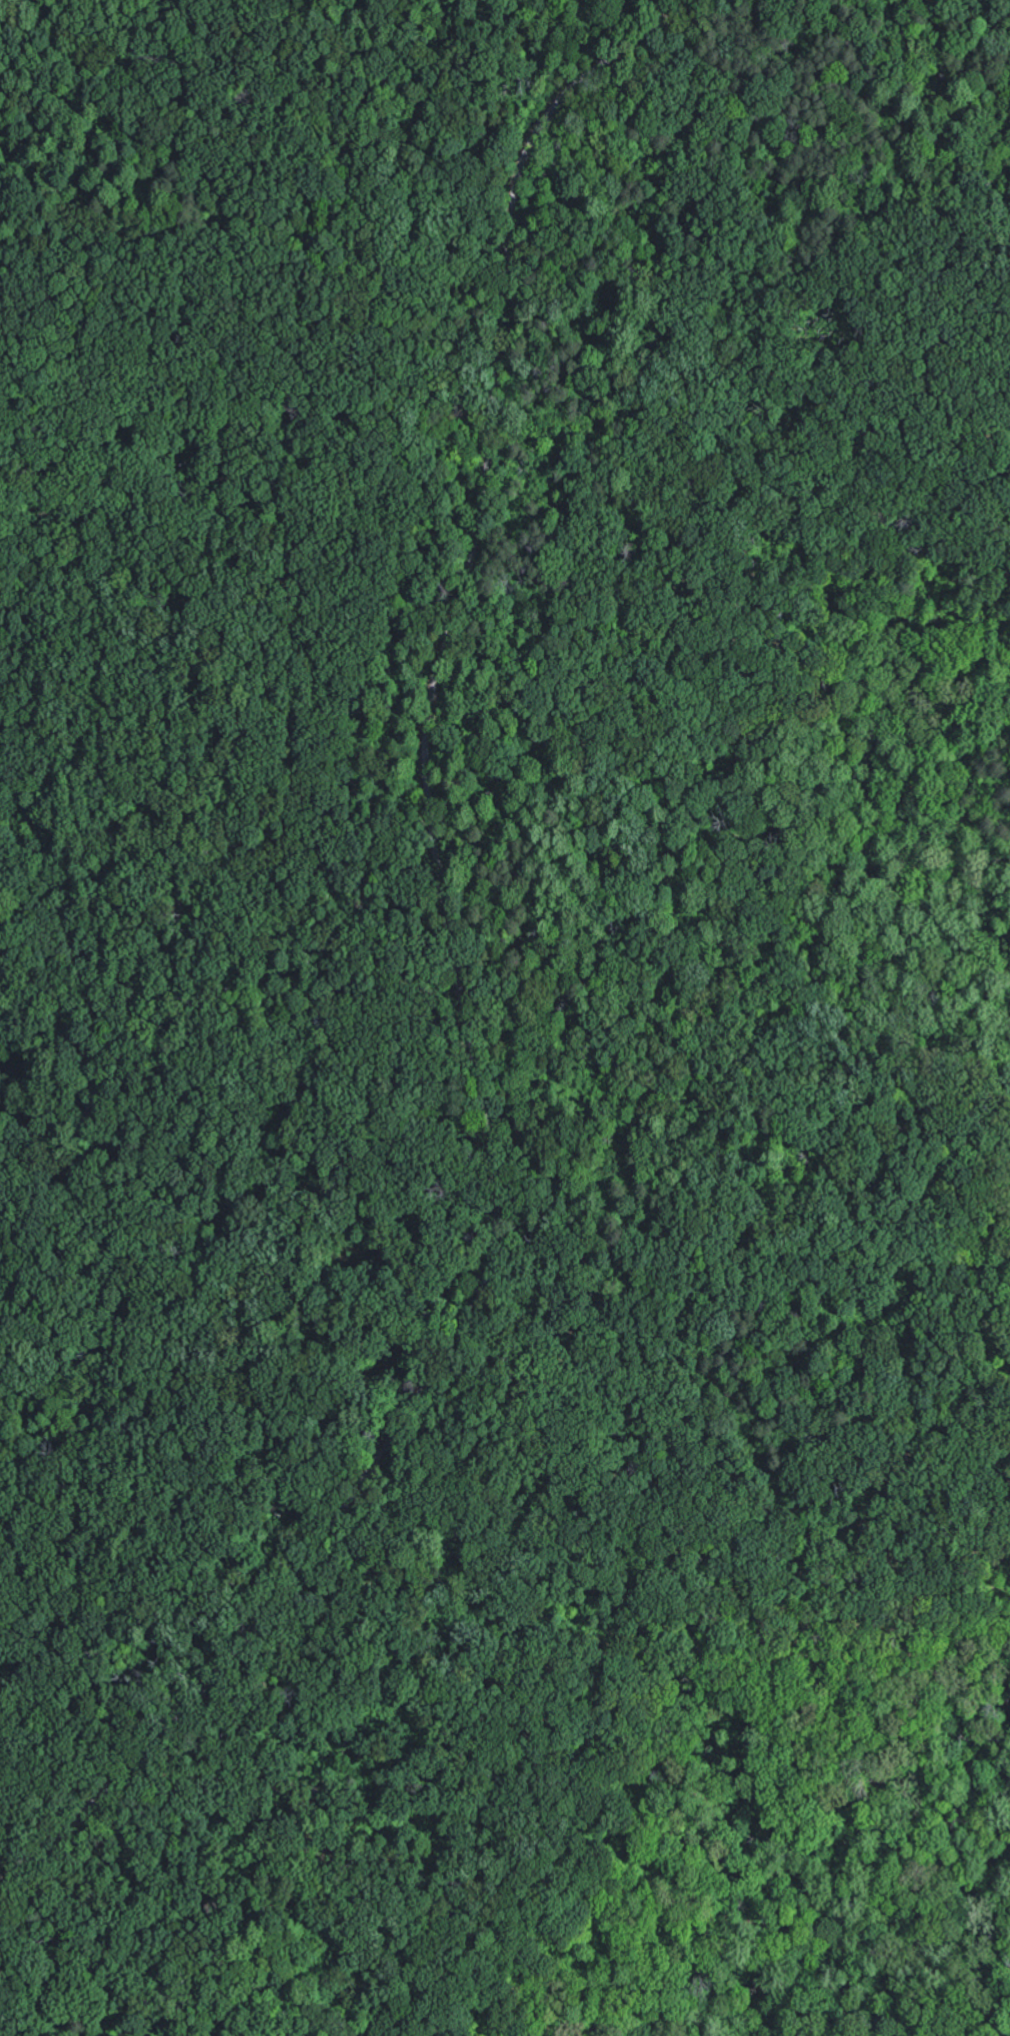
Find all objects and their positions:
road: (459, 982)

